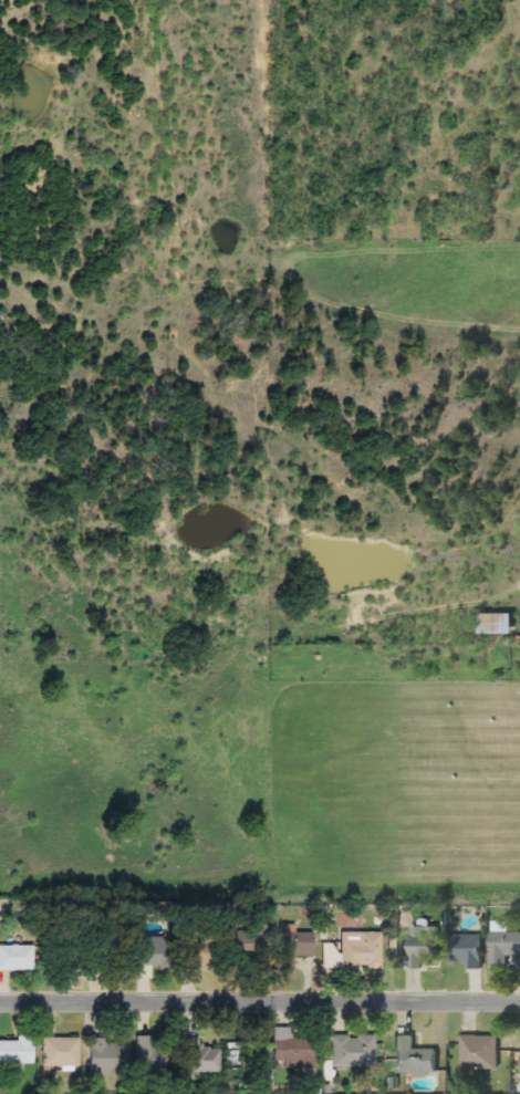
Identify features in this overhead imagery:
building: (492, 625)
building: (242, 942)
building: (290, 946)
building: (416, 946)
building: (502, 946)
building: (358, 950)
building: (464, 950)
building: (191, 952)
building: (144, 954)
building: (15, 958)
building: (80, 958)
road: (260, 1001)
building: (290, 1049)
building: (350, 1051)
building: (15, 1052)
building: (59, 1052)
building: (477, 1052)
building: (148, 1055)
building: (104, 1056)
building: (196, 1056)
building: (410, 1057)
building: (243, 1059)

